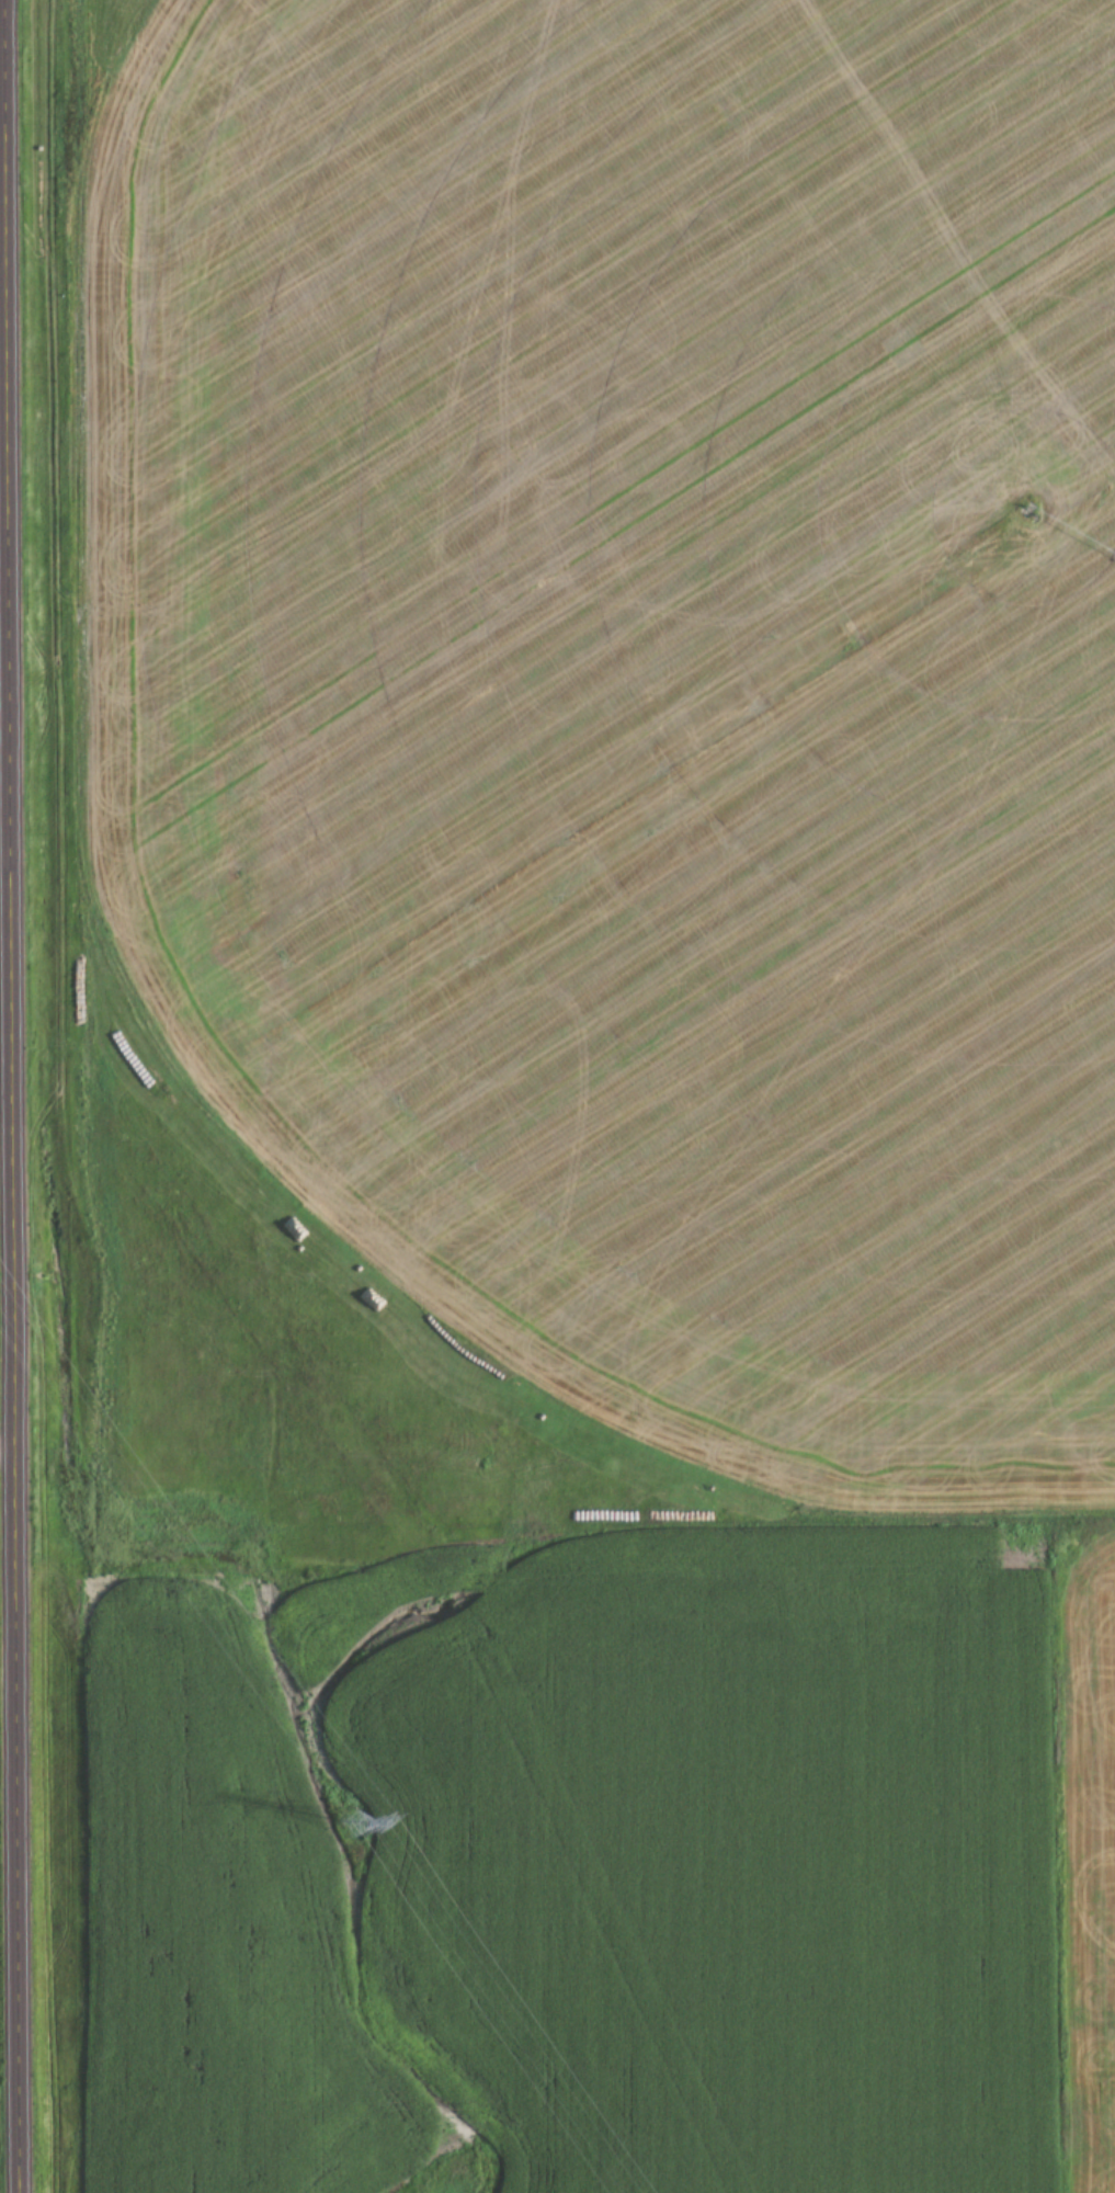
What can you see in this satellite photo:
road: (15, 1095)
power tower: (350, 1825)

